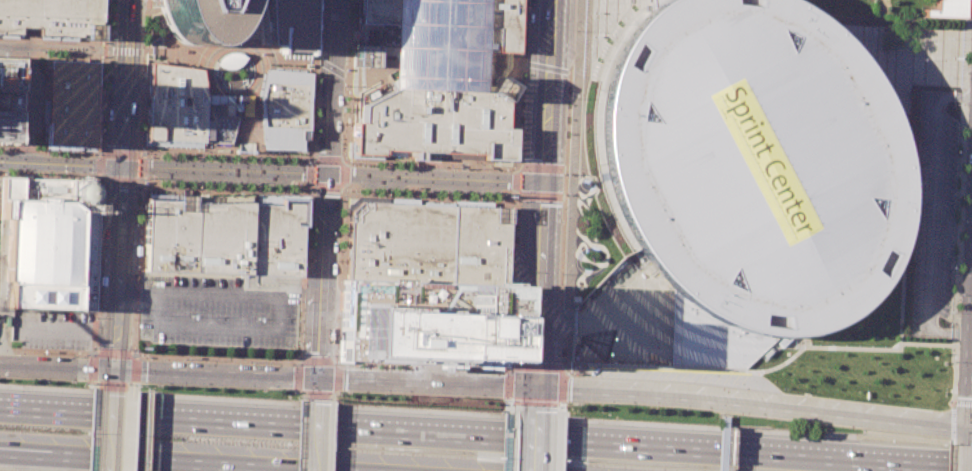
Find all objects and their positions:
road: (141, 2)
building: (654, 2)
street lamp: (348, 7)
building: (944, 9)
road: (965, 9)
street lamp: (592, 12)
street lamp: (143, 14)
building: (51, 17)
street lamp: (318, 17)
building: (191, 18)
street lamp: (968, 20)
road: (143, 22)
building: (494, 25)
building: (289, 26)
street lamp: (524, 26)
building: (378, 30)
street lamp: (576, 30)
road: (314, 32)
road: (885, 32)
street lamp: (868, 34)
street lamp: (592, 36)
road: (27, 37)
street lamp: (947, 37)
road: (142, 38)
street lamp: (101, 42)
street lamp: (317, 43)
road: (600, 44)
road: (13, 47)
road: (231, 47)
street lamp: (346, 47)
road: (68, 48)
road: (124, 51)
road: (145, 51)
road: (97, 53)
street lamp: (101, 56)
road: (495, 56)
street lamp: (888, 57)
road: (909, 57)
road: (26, 58)
street lamp: (921, 58)
street lamp: (143, 60)
road: (151, 60)
road: (518, 60)
road: (437, 62)
road: (40, 63)
road: (547, 67)
road: (331, 68)
road: (146, 71)
road: (376, 71)
road: (917, 72)
street lamp: (966, 72)
street lamp: (106, 75)
road: (347, 76)
road: (99, 77)
road: (102, 77)
street lamp: (946, 77)
street lamp: (140, 78)
road: (357, 78)
road: (502, 78)
street lamp: (25, 79)
road: (229, 83)
road: (347, 84)
street lamp: (346, 85)
street lamp: (904, 85)
street lamp: (316, 88)
road: (422, 88)
road: (514, 88)
road: (358, 91)
road: (366, 91)
building: (1, 92)
road: (6, 95)
road: (45, 97)
street lamp: (521, 97)
street lamp: (568, 97)
road: (250, 100)
road: (16, 101)
road: (33, 102)
building: (71, 102)
road: (359, 103)
road: (184, 108)
building: (185, 109)
road: (311, 109)
building: (283, 110)
road: (283, 110)
street lamp: (898, 117)
street lamp: (140, 119)
street lamp: (314, 119)
street lamp: (105, 120)
building: (435, 122)
street lamp: (24, 123)
street lamp: (343, 123)
road: (139, 125)
street lamp: (964, 126)
street lamp: (901, 129)
street lamp: (905, 142)
street lamp: (13, 143)
street lamp: (33, 144)
road: (23, 147)
street lamp: (138, 147)
road: (6, 148)
road: (48, 148)
street lamp: (2, 149)
street lamp: (44, 151)
road: (101, 151)
road: (152, 151)
street lamp: (963, 151)
street lamp: (69, 152)
road: (121, 152)
road: (245, 152)
building: (391, 152)
road: (140, 153)
road: (573, 153)
street lamp: (94, 155)
road: (141, 155)
road: (163, 155)
building: (462, 155)
street lamp: (2, 156)
street lamp: (171, 156)
road: (178, 156)
road: (190, 156)
street lamp: (198, 157)
road: (205, 157)
road: (217, 157)
street lamp: (226, 158)
road: (232, 158)
road: (248, 158)
street lamp: (43, 159)
street lamp: (69, 159)
road: (263, 159)
road: (275, 159)
street lamp: (256, 160)
street lamp: (284, 160)
road: (289, 160)
road: (345, 160)
road: (510, 160)
street lamp: (908, 160)
street lamp: (304, 161)
road: (340, 161)
street lamp: (519, 161)
road: (483, 162)
building: (751, 162)
stadium: (751, 162)
street lamp: (2, 163)
street lamp: (350, 163)
road: (434, 163)
road: (59, 164)
road: (100, 164)
street lamp: (171, 164)
street lamp: (198, 164)
road: (430, 164)
street lamp: (43, 165)
street lamp: (387, 165)
street lamp: (68, 166)
traffic signals: (119, 166)
road: (142, 166)
street lamp: (225, 166)
street lamp: (413, 166)
street lamp: (256, 167)
street lamp: (448, 167)
street lamp: (283, 168)
street lamp: (478, 168)
road: (539, 168)
road: (515, 169)
road: (568, 169)
street lamp: (1, 171)
street lamp: (171, 171)
street lamp: (198, 172)
road: (310, 172)
street lamp: (910, 172)
street lamp: (43, 173)
street lamp: (225, 173)
street lamp: (386, 173)
street lamp: (413, 173)
street lamp: (564, 173)
street lamp: (68, 174)
traffic signals: (326, 174)
road: (330, 174)
street lamp: (447, 174)
street lamp: (256, 175)
street lamp: (283, 175)
road: (50, 176)
street lamp: (478, 176)
street lamp: (148, 177)
road: (142, 178)
road: (104, 179)
road: (122, 180)
street lamp: (386, 180)
road: (514, 180)
road: (139, 181)
street lamp: (412, 181)
street lamp: (447, 182)
road: (921, 182)
street lamp: (962, 182)
street lamp: (170, 183)
street lamp: (477, 183)
traffic signals: (541, 183)
street lamp: (197, 184)
road: (142, 185)
street lamp: (224, 185)
street lamp: (255, 186)
road: (311, 186)
street lamp: (282, 187)
road: (326, 187)
street lamp: (303, 188)
road: (341, 188)
road: (141, 189)
road: (326, 189)
street lamp: (351, 190)
street lamp: (385, 190)
street lamp: (412, 192)
road: (910, 192)
road: (513, 193)
street lamp: (911, 193)
railway: (113, 194)
road: (118, 194)
street lamp: (446, 194)
street lamp: (563, 194)
railway: (129, 195)
road: (427, 195)
street lamp: (477, 195)
road: (516, 196)
road: (540, 196)
road: (567, 197)
street lamp: (517, 201)
street lamp: (311, 203)
road: (539, 206)
street lamp: (910, 206)
road: (338, 208)
street lamp: (137, 209)
road: (958, 213)
parking lot: (936, 216)
road: (933, 218)
street lamp: (100, 219)
street lamp: (909, 219)
road: (957, 220)
street lamp: (960, 220)
railway: (137, 224)
road: (304, 229)
street lamp: (340, 233)
street lamp: (906, 234)
building: (222, 237)
road: (342, 238)
building: (48, 242)
building: (428, 242)
railway: (108, 252)
street lamp: (900, 254)
street lamp: (959, 257)
street lamp: (309, 258)
street lamp: (339, 261)
road: (96, 263)
street lamp: (98, 264)
street lamp: (899, 267)
street lamp: (513, 271)
street lamp: (560, 273)
street lamp: (899, 281)
road: (510, 282)
road: (583, 287)
street lamp: (898, 294)
street lamp: (958, 294)
road: (512, 295)
street lamp: (300, 300)
road: (521, 302)
street lamp: (898, 307)
road: (105, 308)
road: (520, 308)
building: (220, 313)
street lamp: (45, 317)
street lamp: (96, 317)
street lamp: (336, 317)
road: (595, 317)
street lamp: (133, 318)
street lamp: (897, 320)
building: (422, 321)
parking lot: (50, 327)
road: (66, 328)
street lamp: (299, 333)
street lamp: (896, 333)
road: (566, 336)
building: (710, 340)
street lamp: (817, 344)
street lamp: (830, 344)
road: (925, 344)
street lamp: (844, 345)
street lamp: (857, 345)
street lamp: (870, 345)
street lamp: (901, 345)
street lamp: (883, 346)
road: (893, 346)
street lamp: (914, 346)
street lamp: (928, 346)
street lamp: (93, 347)
street lamp: (941, 347)
street lamp: (133, 349)
road: (46, 350)
street lamp: (42, 352)
road: (16, 353)
road: (299, 353)
road: (112, 354)
street lamp: (85, 355)
road: (91, 355)
street lamp: (335, 355)
street lamp: (185, 358)
street lamp: (214, 360)
street lamp: (507, 360)
street lamp: (250, 361)
road: (297, 361)
road: (317, 361)
road: (338, 361)
street lamp: (955, 361)
road: (336, 362)
street lamp: (563, 362)
street lamp: (292, 363)
road: (444, 363)
road: (337, 364)
road: (510, 365)
road: (536, 366)
road: (563, 366)
road: (56, 367)
road: (507, 367)
street lamp: (385, 368)
street lamp: (408, 368)
road: (564, 369)
traffic signals: (113, 370)
street lamp: (471, 371)
road: (90, 372)
road: (129, 372)
road: (297, 376)
traffic signals: (318, 378)
road: (336, 378)
street lamp: (44, 381)
street lamp: (84, 383)
road: (507, 383)
street lamp: (128, 384)
street lamp: (140, 384)
road: (109, 385)
street lamp: (180, 386)
road: (562, 386)
traffic signals: (535, 387)
road: (543, 387)
street lamp: (248, 389)
road: (318, 389)
street lamp: (782, 389)
road: (292, 390)
street lamp: (291, 391)
road: (302, 391)
street lamp: (340, 392)
street lamp: (384, 393)
road: (304, 395)
road: (317, 395)
road: (330, 395)
road: (332, 395)
street lamp: (374, 396)
street lamp: (299, 397)
street lamp: (456, 397)
road: (510, 397)
street lamp: (336, 399)
road: (506, 399)
street lamp: (881, 400)
street lamp: (949, 400)
road: (509, 402)
road: (561, 402)
road: (534, 403)
road: (581, 403)
road: (558, 404)
street lamp: (510, 405)
street lamp: (607, 405)
road: (508, 407)
street lamp: (559, 407)
street lamp: (683, 409)
road: (560, 410)
road: (508, 412)
road: (953, 413)
road: (559, 416)
street lamp: (735, 416)
road: (88, 428)
street lamp: (825, 428)
road: (331, 429)
railway: (101, 430)
road: (109, 430)
railway: (116, 430)
road: (126, 430)
road: (301, 435)
road: (301, 435)
road: (485, 435)
road: (316, 436)
road: (330, 436)
road: (507, 441)
road: (533, 442)
road: (558, 443)
road: (951, 457)
road: (145, 461)

